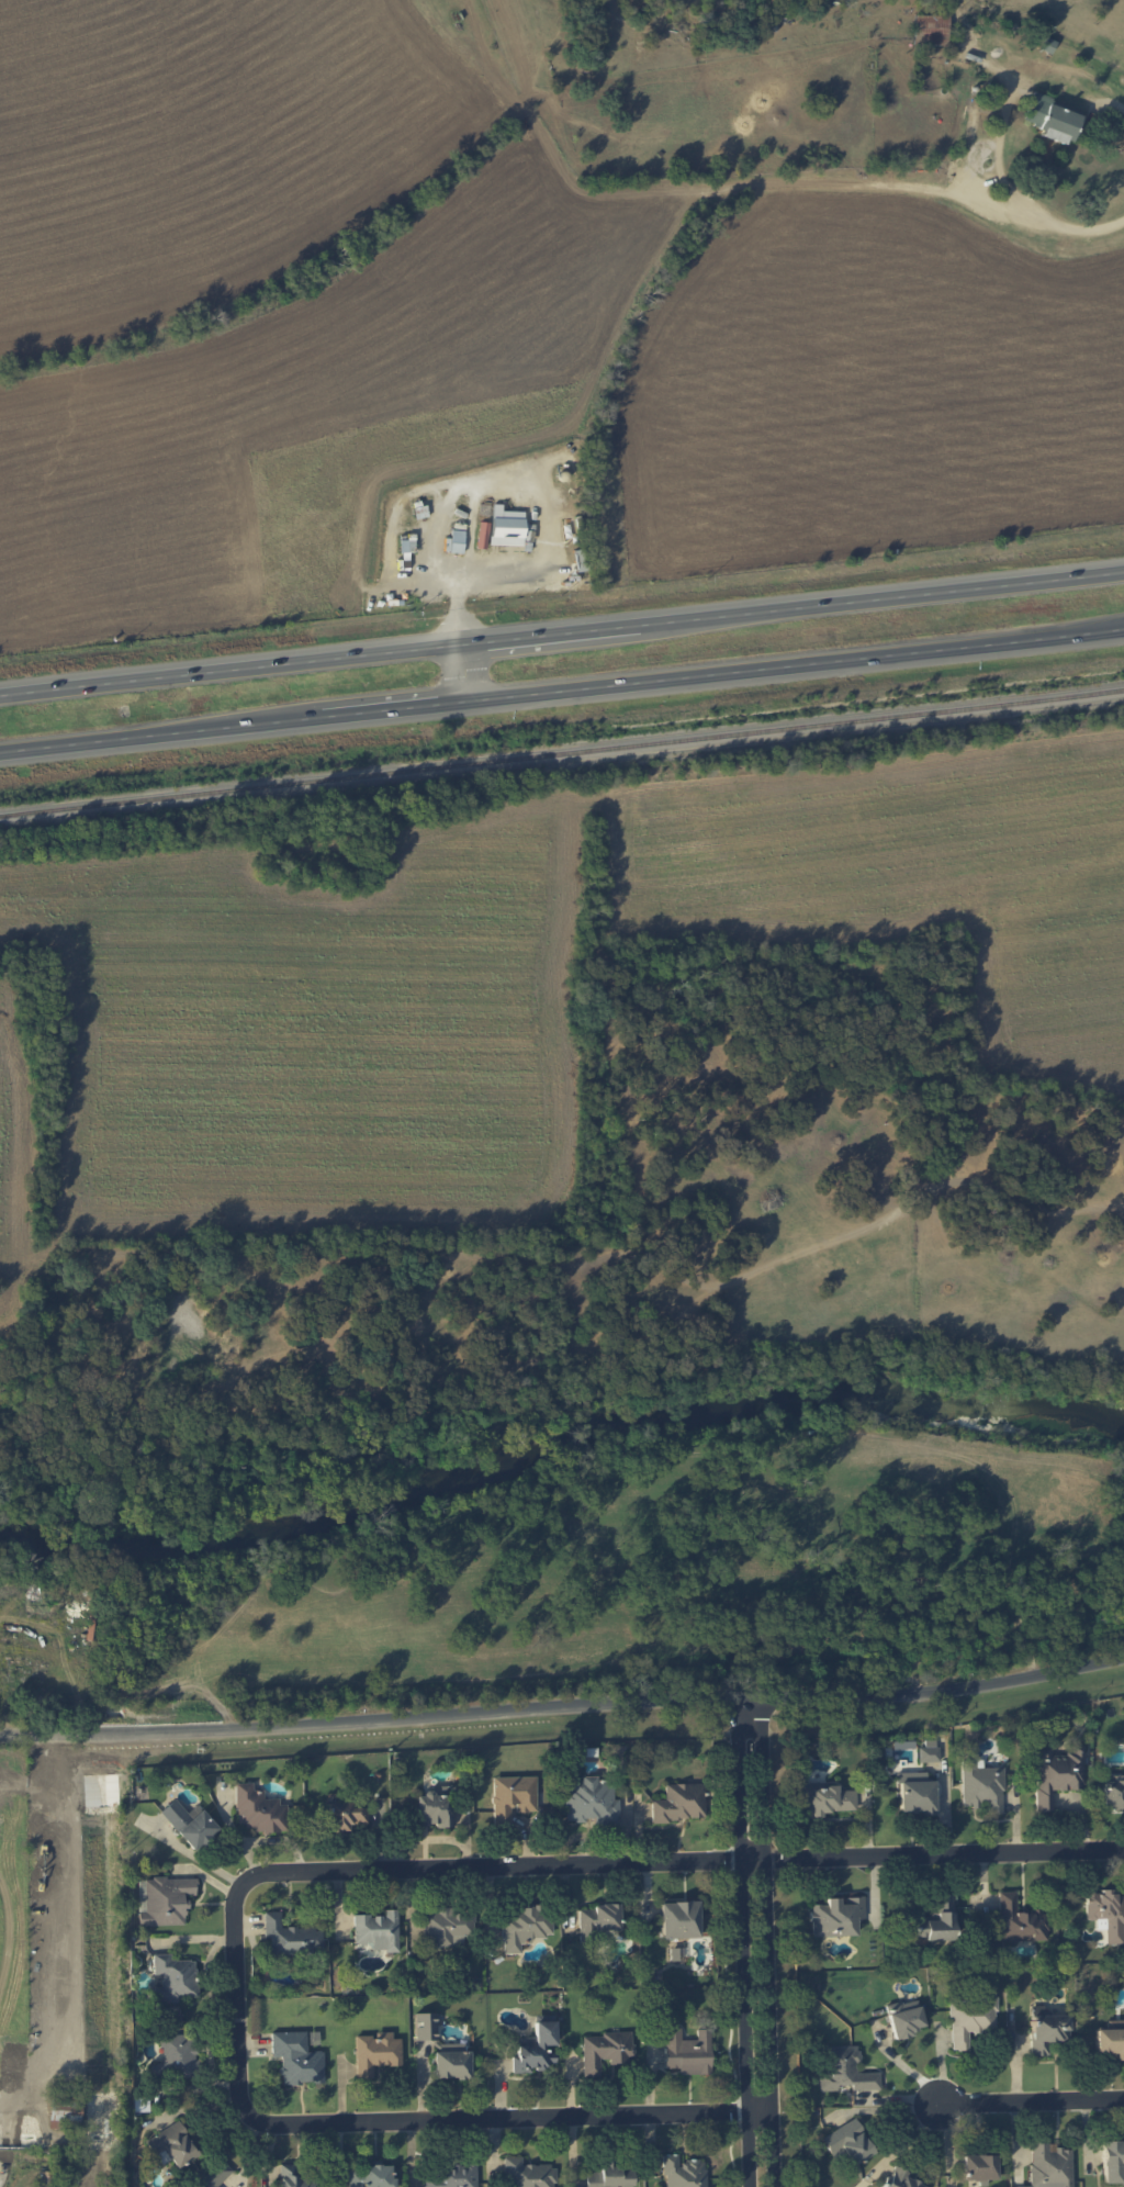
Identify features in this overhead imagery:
building: (932, 29)
road: (1004, 90)
road: (1110, 101)
building: (1053, 119)
road: (1050, 217)
road: (551, 506)
building: (507, 527)
building: (482, 535)
building: (457, 541)
road: (562, 637)
road: (458, 675)
road: (561, 691)
railway: (562, 753)
road: (563, 1706)
building: (928, 1753)
building: (1057, 1773)
building: (981, 1787)
building: (915, 1793)
building: (1113, 1795)
building: (512, 1797)
building: (824, 1798)
building: (589, 1801)
building: (679, 1802)
building: (434, 1807)
building: (259, 1810)
building: (345, 1816)
building: (189, 1824)
road: (938, 1851)
building: (166, 1900)
building: (1106, 1914)
building: (836, 1916)
building: (597, 1919)
building: (679, 1919)
building: (937, 1920)
building: (1020, 1921)
building: (447, 1925)
crop: (44, 1926)
building: (524, 1926)
building: (376, 1930)
building: (291, 1937)
road: (757, 1941)
road: (724, 1969)
building: (175, 1978)
road: (238, 2000)
building: (904, 2017)
building: (970, 2018)
building: (425, 2026)
building: (1046, 2029)
building: (1111, 2039)
building: (538, 2046)
building: (605, 2050)
building: (375, 2052)
building: (688, 2052)
building: (176, 2057)
building: (296, 2057)
building: (451, 2061)
building: (844, 2068)
road: (1032, 2100)
building: (848, 2144)
building: (171, 2145)
building: (1112, 2162)
building: (1049, 2166)
building: (979, 2167)
building: (684, 2172)
building: (528, 2174)
building: (215, 2175)
building: (610, 2175)
building: (370, 2176)
building: (450, 2176)
building: (294, 2177)
building: (900, 2177)

